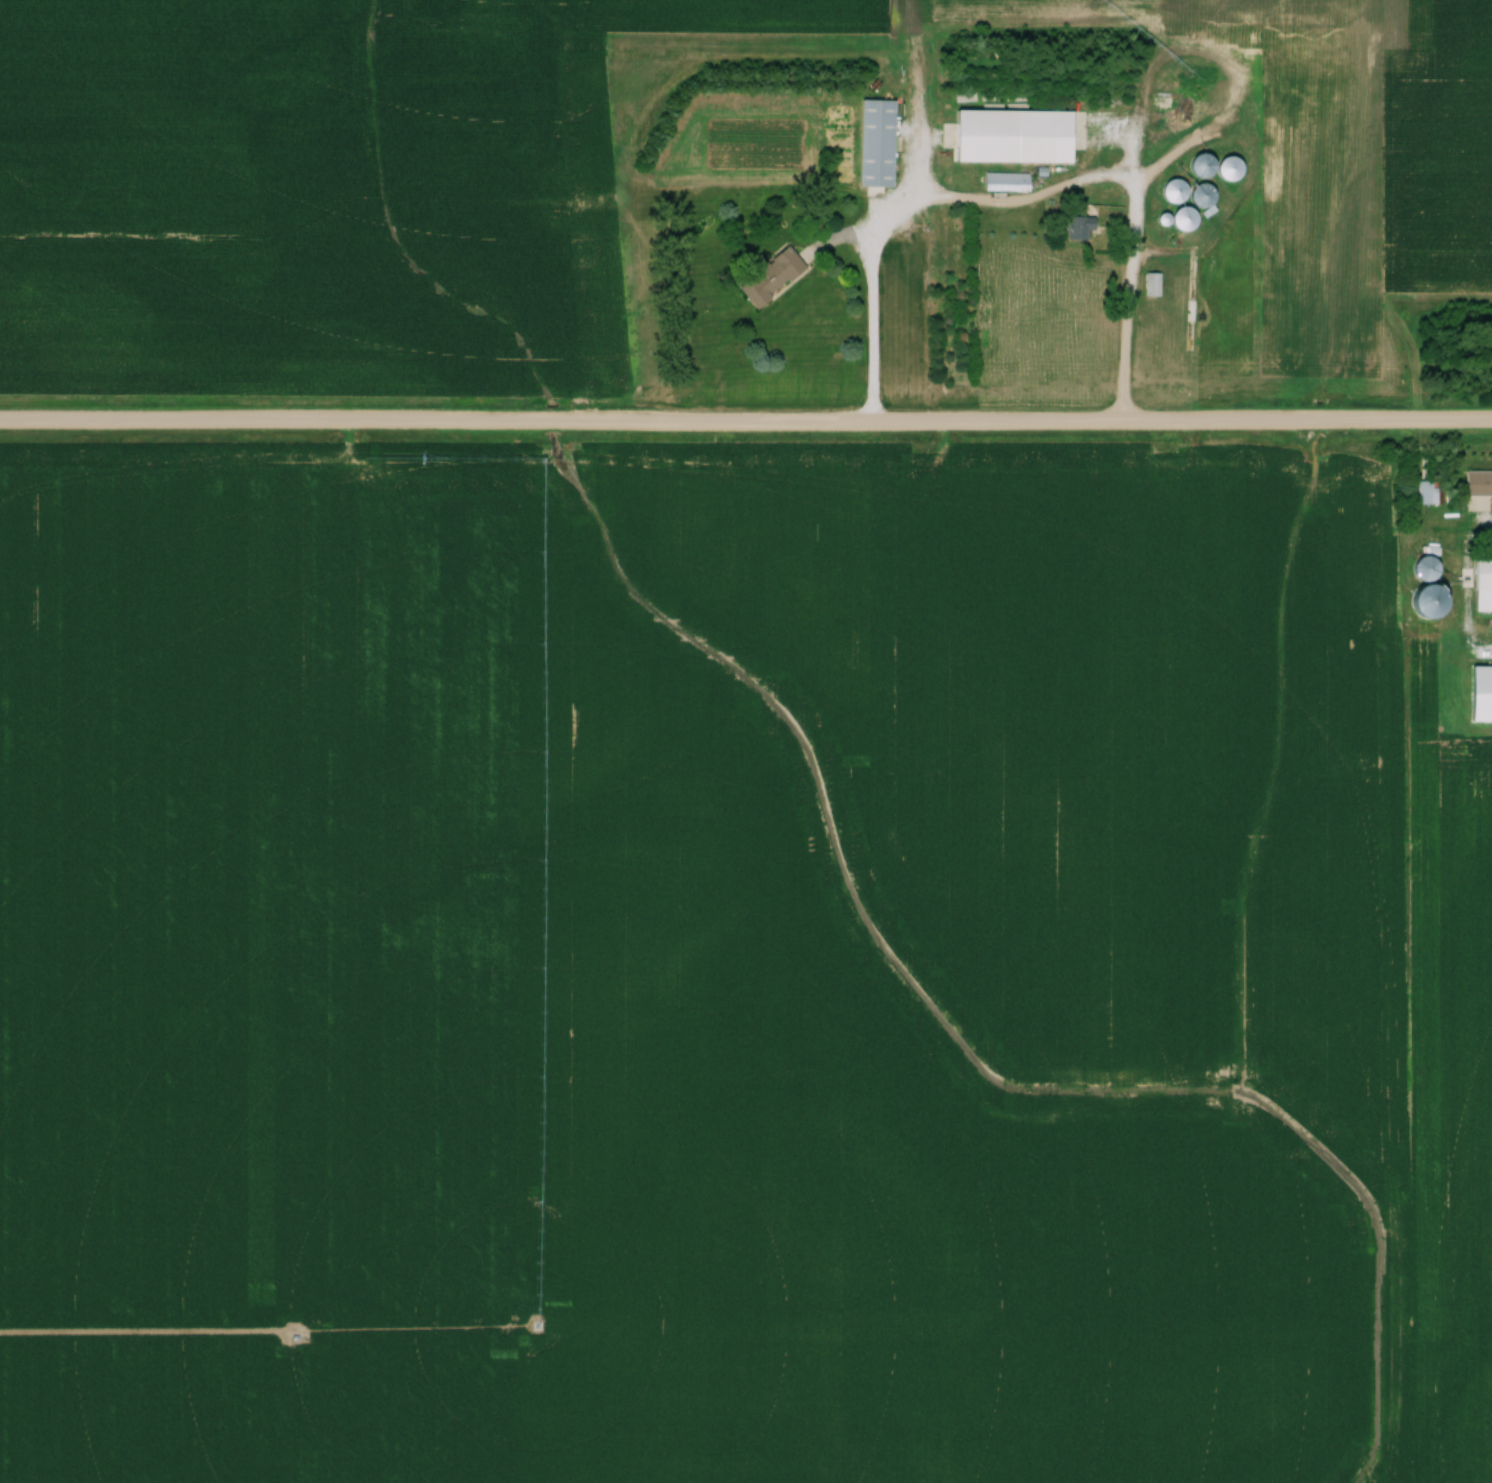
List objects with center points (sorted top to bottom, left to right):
building: (874, 142)
building: (1099, 152)
building: (1197, 165)
building: (1224, 168)
building: (1006, 182)
building: (1169, 190)
building: (1200, 195)
building: (1178, 218)
building: (1077, 227)
building: (767, 275)
building: (1150, 284)
road: (866, 300)
road: (746, 427)
building: (1477, 483)
building: (1428, 494)
building: (1422, 568)
building: (1482, 584)

